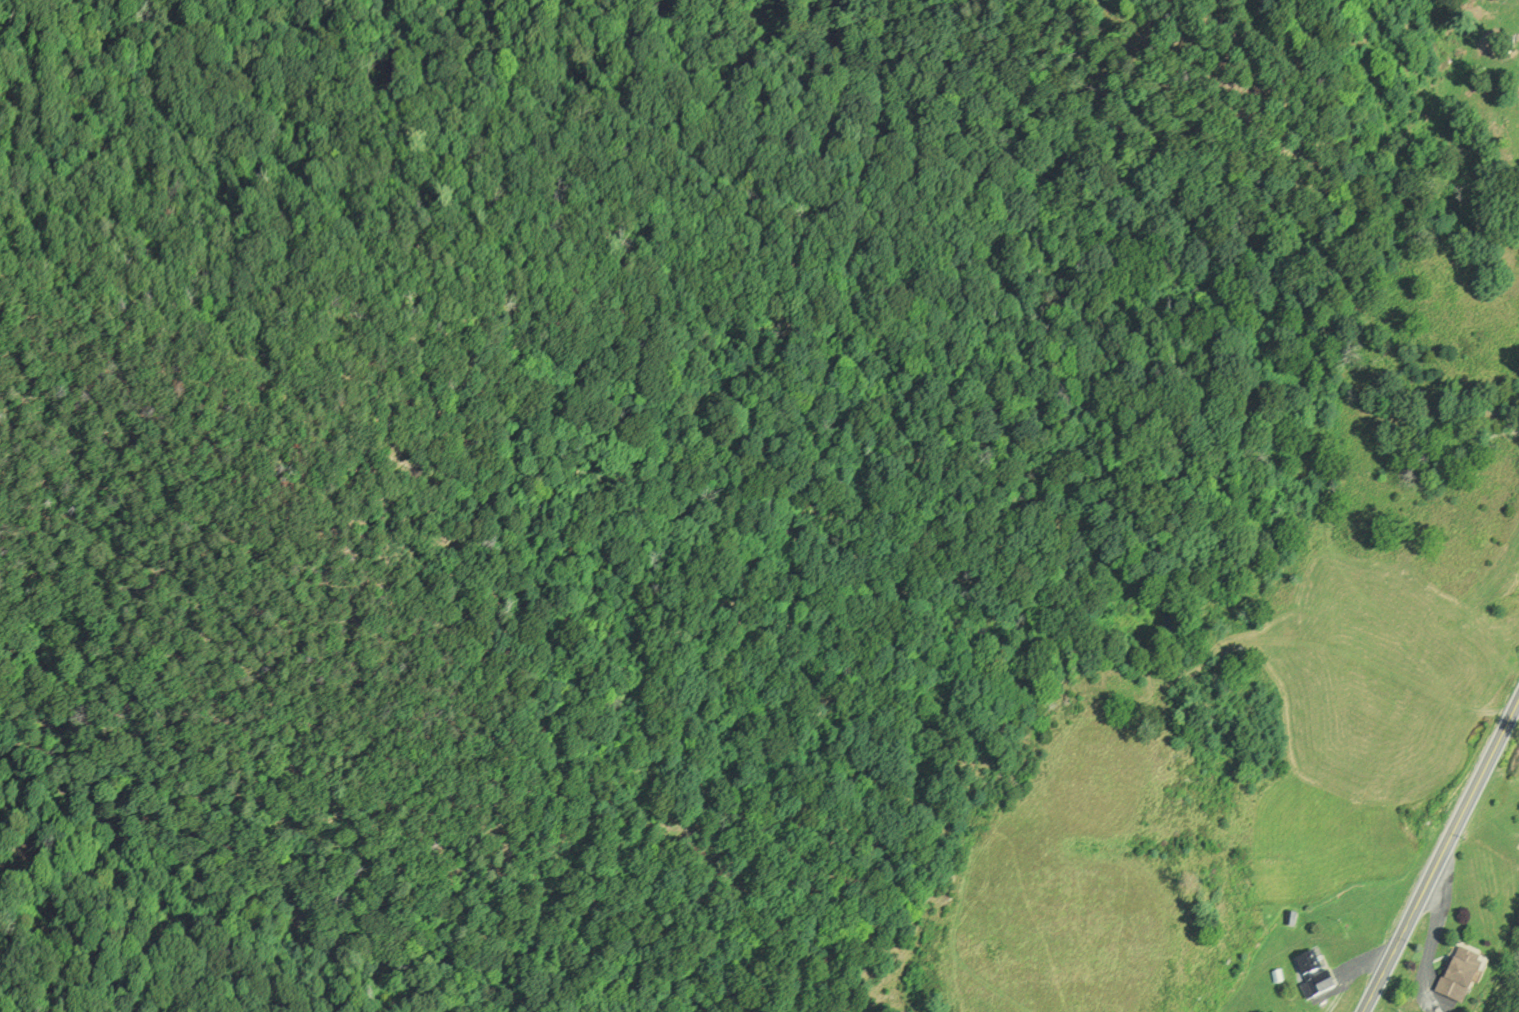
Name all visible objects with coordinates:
road: (1317, 418)
building: (1123, 683)
road: (1441, 856)
building: (1292, 918)
building: (1462, 977)
building: (1278, 978)
building: (1316, 978)

